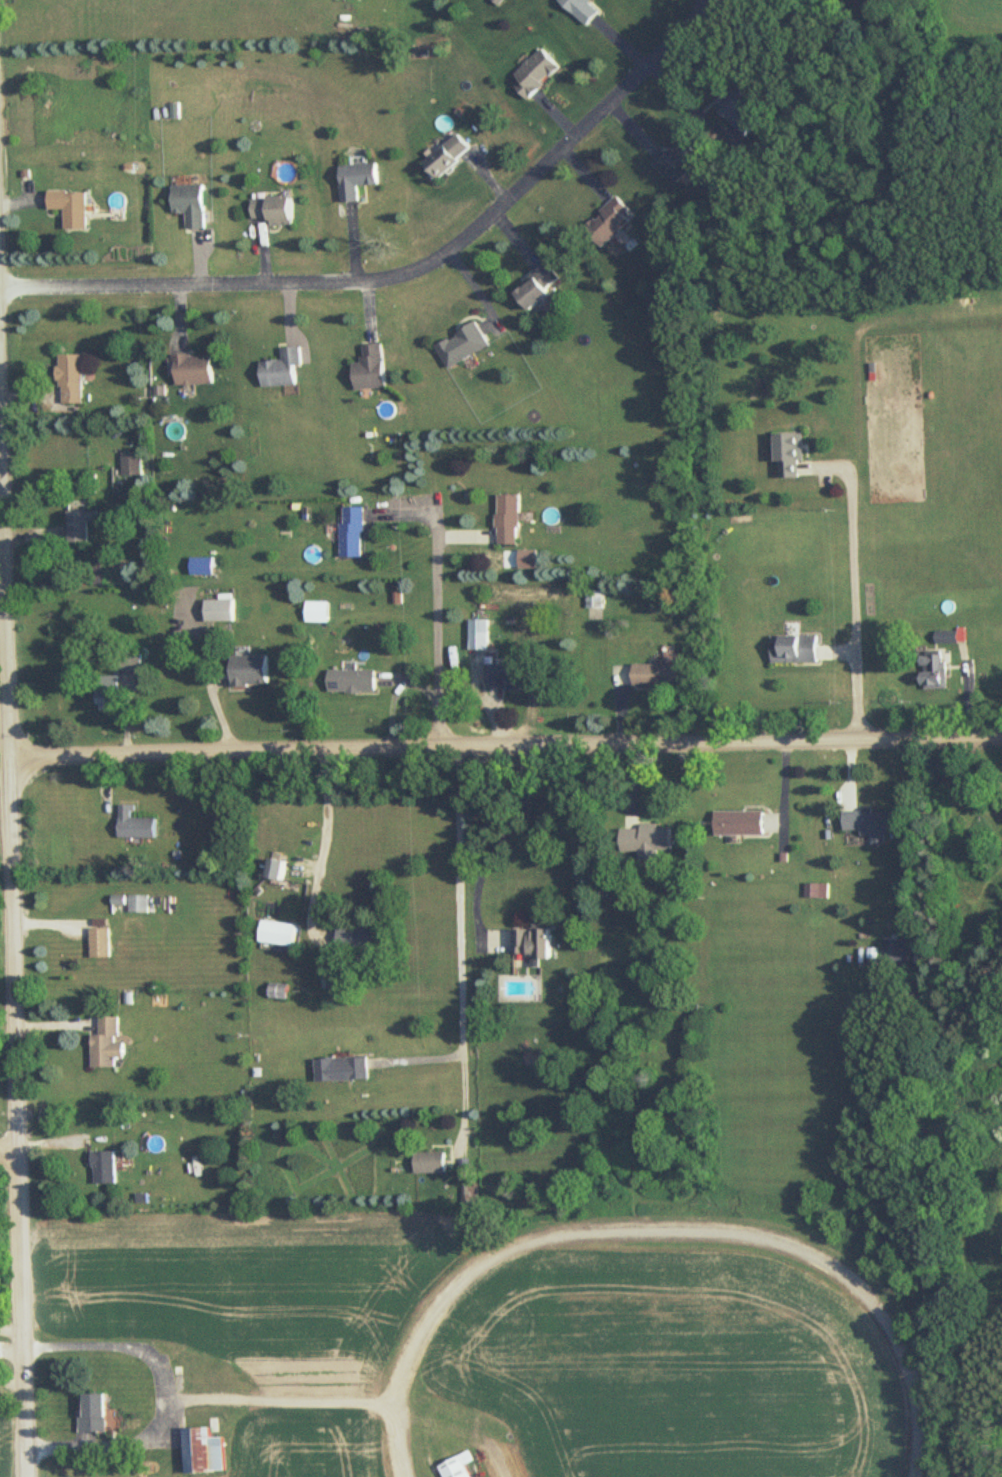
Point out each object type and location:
building: (582, 10)
building: (535, 74)
building: (741, 110)
building: (448, 157)
building: (678, 161)
building: (360, 180)
building: (196, 205)
building: (75, 208)
building: (279, 211)
building: (607, 224)
road: (352, 243)
road: (403, 269)
building: (538, 287)
building: (464, 345)
building: (373, 368)
building: (284, 369)
building: (196, 370)
building: (76, 379)
building: (791, 456)
building: (134, 464)
building: (509, 520)
building: (82, 525)
building: (353, 533)
building: (202, 567)
road: (854, 600)
building: (221, 611)
road: (1, 614)
road: (435, 622)
building: (479, 636)
building: (948, 638)
building: (796, 649)
building: (133, 660)
building: (252, 671)
building: (937, 671)
building: (660, 676)
building: (507, 679)
building: (354, 682)
road: (2, 702)
road: (503, 743)
building: (742, 823)
building: (873, 823)
building: (135, 825)
building: (649, 841)
road: (325, 843)
road: (502, 843)
building: (279, 870)
building: (138, 905)
building: (361, 938)
road: (459, 942)
building: (537, 942)
building: (102, 943)
building: (899, 951)
road: (13, 978)
building: (280, 992)
road: (7, 1036)
building: (109, 1044)
building: (344, 1068)
road: (9, 1152)
building: (432, 1162)
building: (107, 1167)
road: (169, 1397)
road: (281, 1400)
building: (99, 1413)
building: (206, 1452)
building: (460, 1466)

